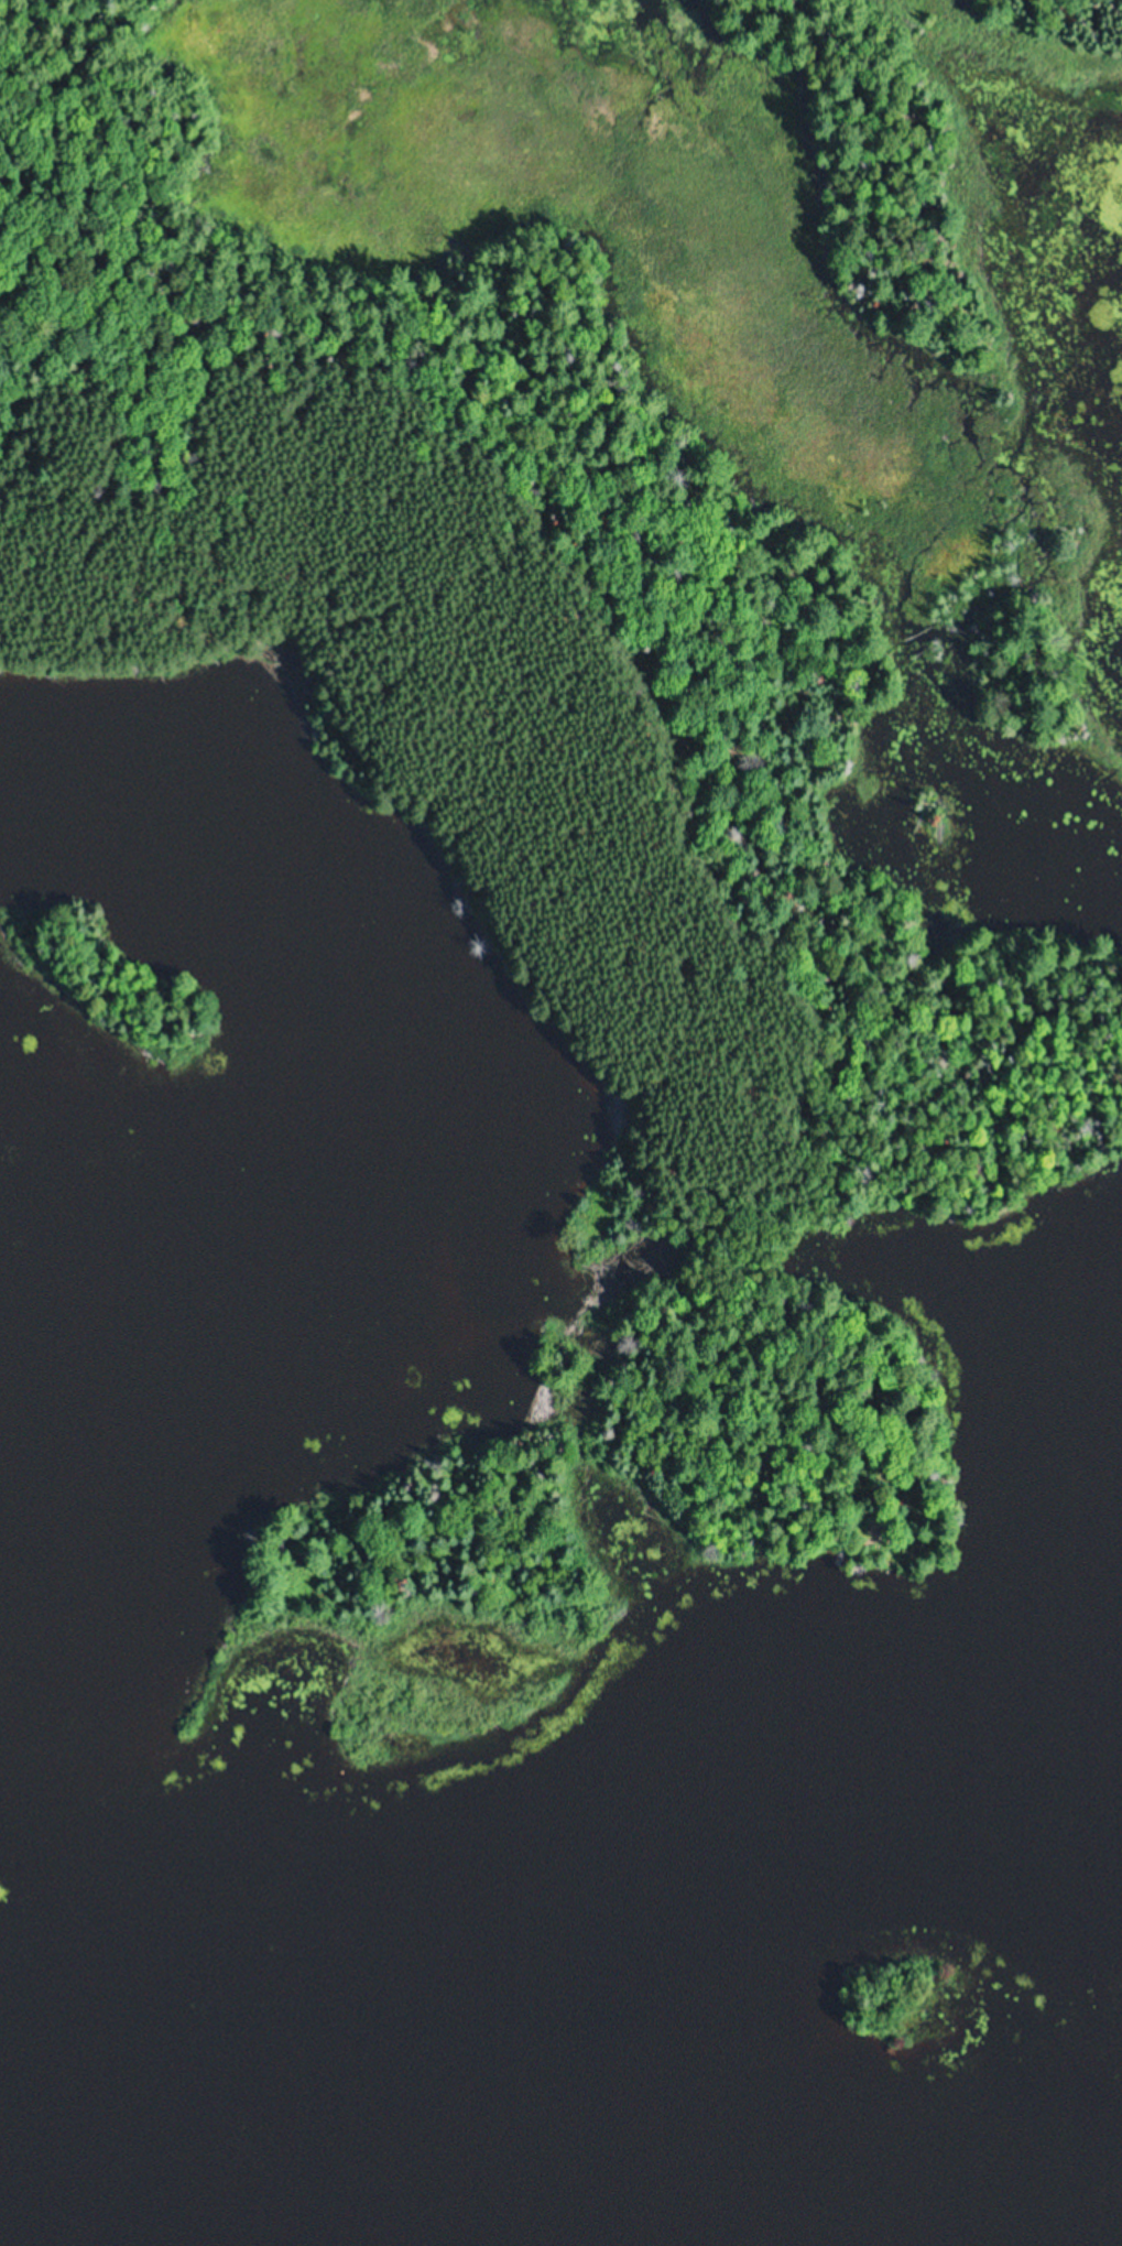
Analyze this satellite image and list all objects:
river: (1069, 2192)

